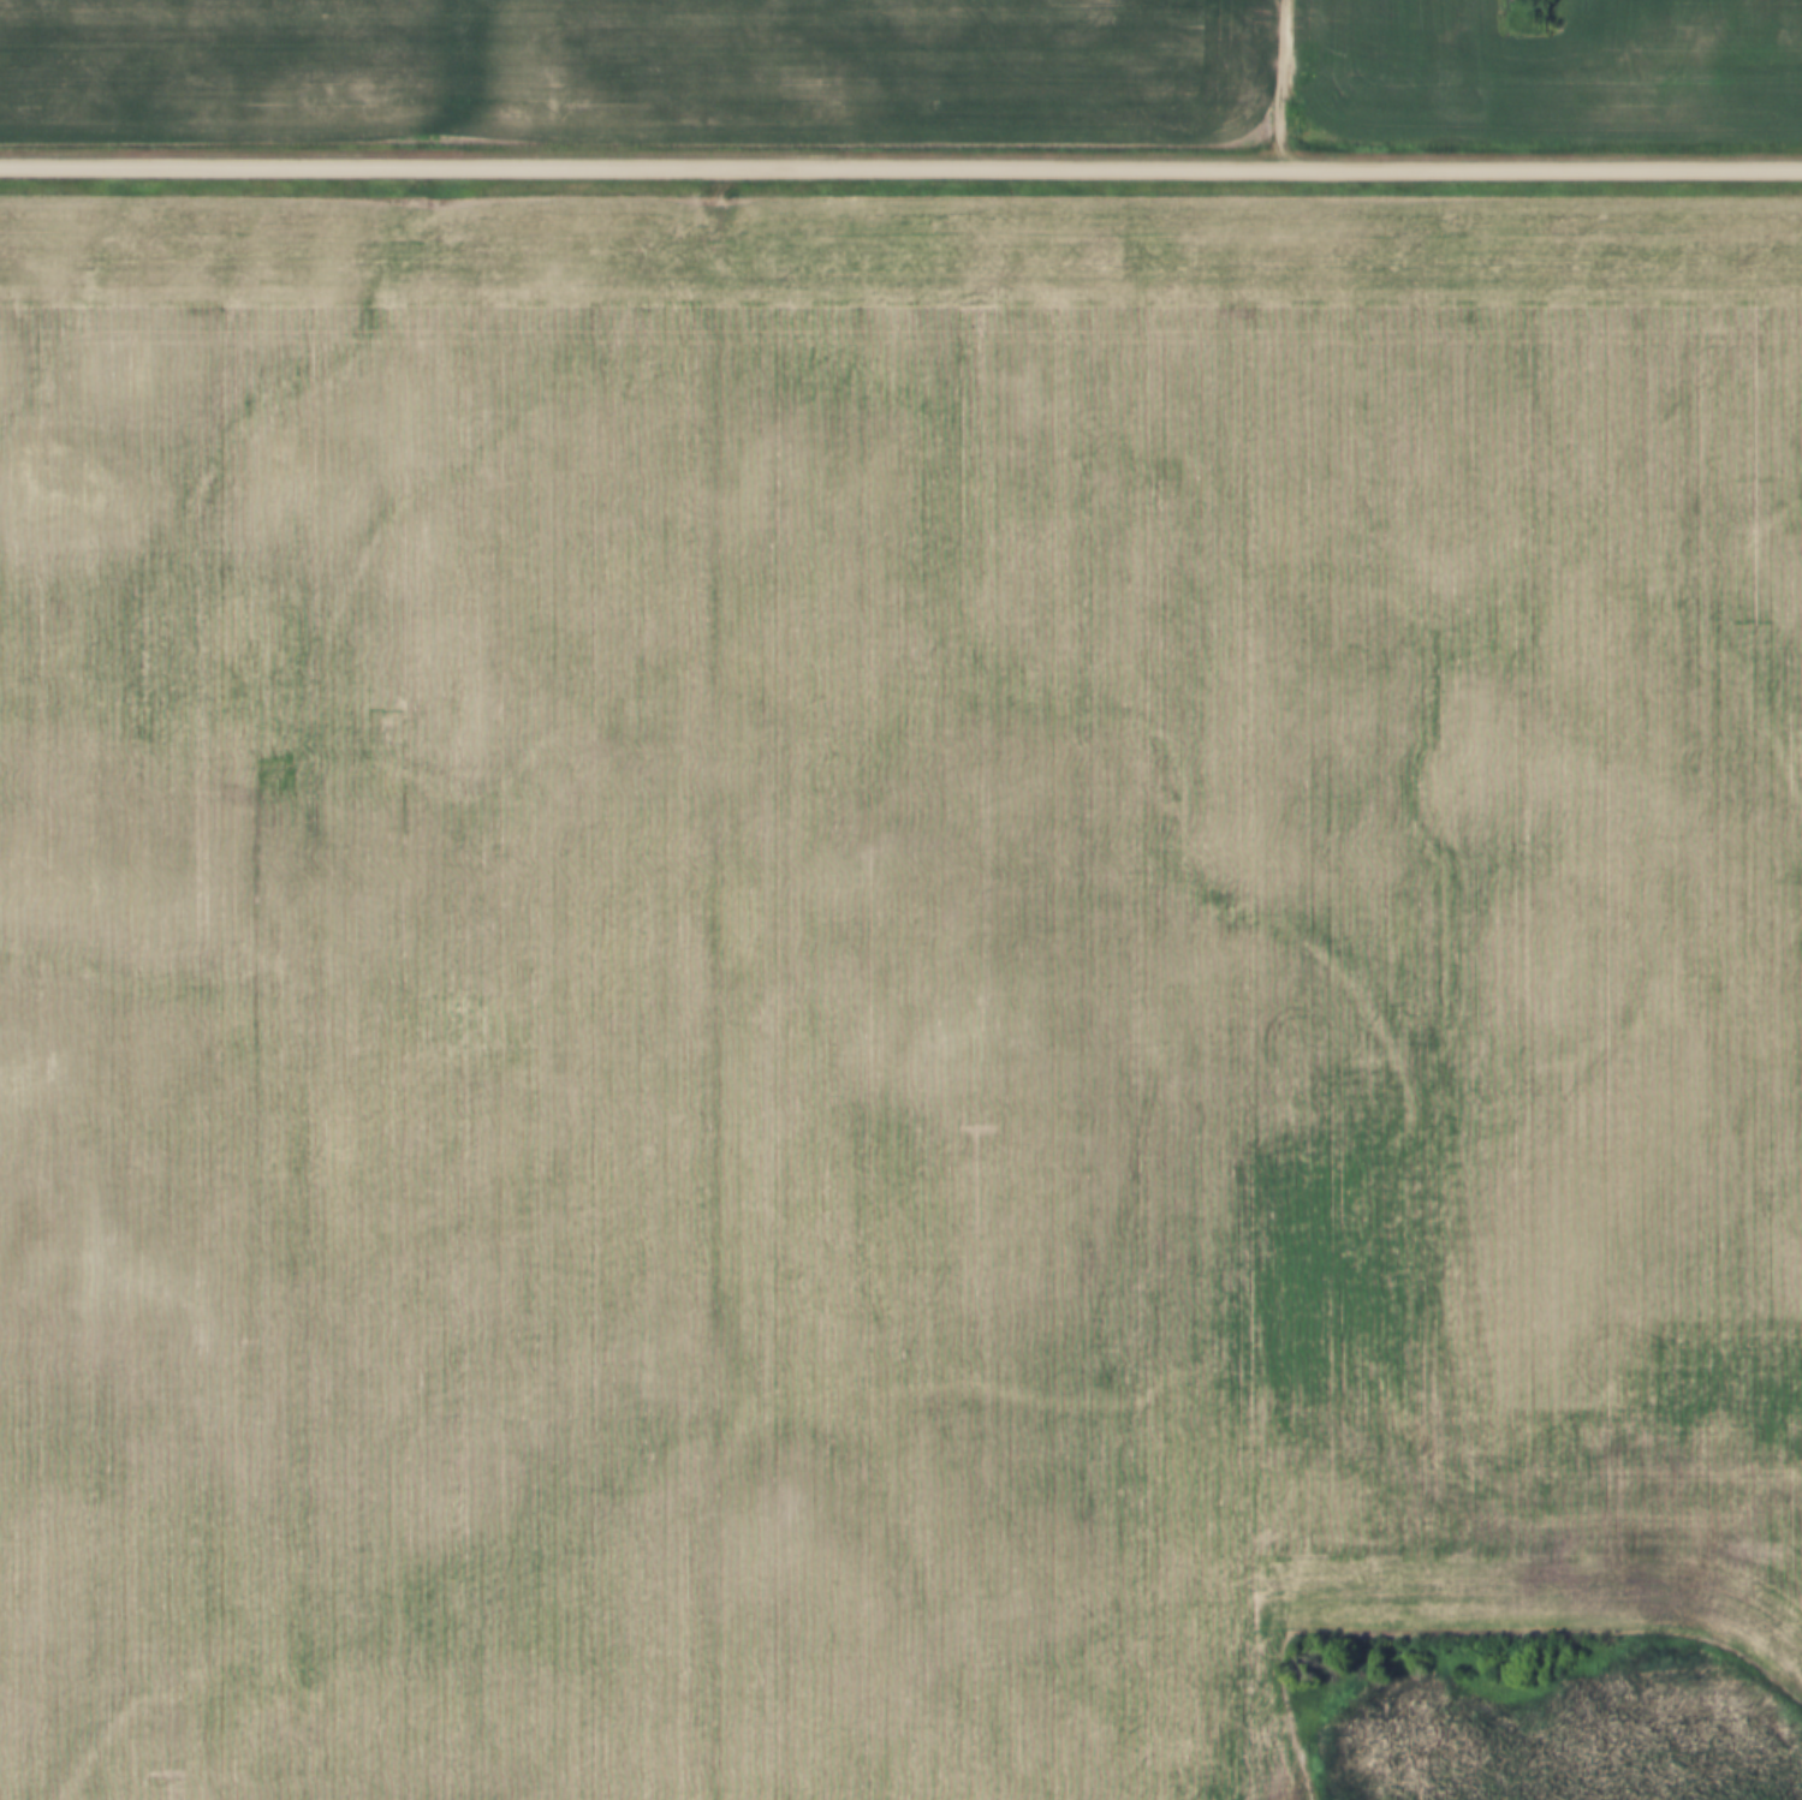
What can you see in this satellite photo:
road: (900, 161)

